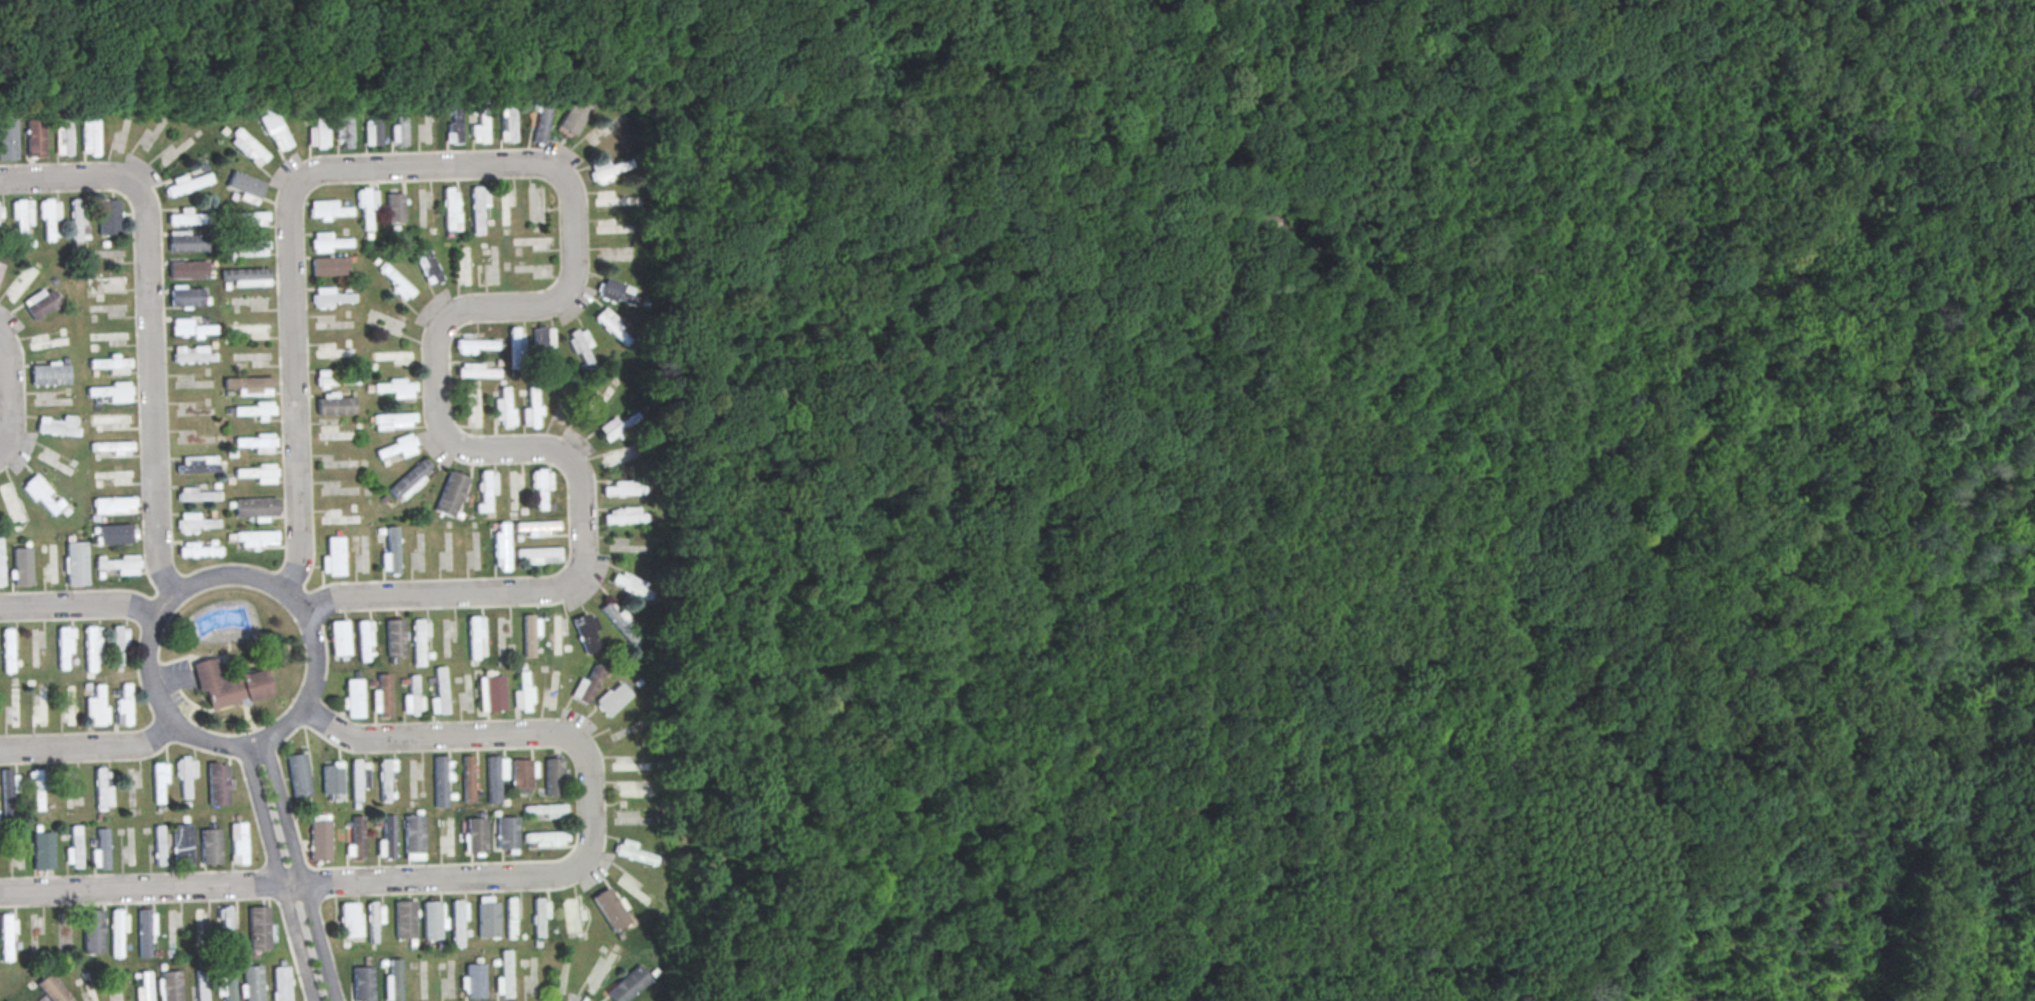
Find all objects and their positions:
road: (1896, 1)
road: (1963, 9)
road: (9, 14)
road: (1045, 56)
road: (1563, 62)
building: (573, 116)
building: (507, 123)
building: (541, 123)
building: (343, 127)
building: (479, 127)
building: (399, 128)
building: (453, 128)
building: (275, 130)
building: (372, 130)
building: (601, 132)
building: (90, 134)
building: (317, 134)
building: (8, 137)
building: (35, 137)
building: (63, 137)
building: (248, 148)
building: (606, 170)
building: (188, 183)
building: (243, 186)
building: (610, 201)
building: (395, 206)
building: (504, 206)
building: (366, 208)
building: (451, 208)
building: (329, 209)
building: (477, 210)
road: (1623, 211)
road: (573, 215)
building: (109, 217)
building: (0, 218)
building: (22, 218)
building: (48, 218)
building: (187, 218)
building: (255, 218)
building: (78, 220)
building: (608, 225)
building: (187, 240)
building: (531, 241)
building: (329, 242)
building: (249, 248)
building: (427, 264)
building: (329, 265)
building: (1, 266)
building: (464, 266)
building: (188, 269)
building: (246, 276)
building: (109, 280)
building: (394, 280)
building: (20, 283)
building: (615, 292)
building: (186, 296)
building: (333, 297)
road: (1297, 298)
building: (41, 302)
road: (147, 325)
building: (613, 325)
building: (191, 329)
building: (247, 329)
building: (108, 335)
building: (47, 343)
building: (516, 343)
building: (473, 344)
building: (542, 344)
building: (579, 346)
road: (1030, 347)
building: (332, 352)
building: (192, 354)
building: (396, 356)
building: (110, 364)
building: (478, 370)
building: (50, 373)
building: (335, 378)
road: (2008, 382)
building: (248, 385)
building: (394, 387)
building: (110, 391)
road: (6, 397)
building: (334, 403)
building: (601, 403)
building: (474, 407)
building: (503, 407)
building: (532, 409)
building: (253, 410)
building: (111, 420)
building: (392, 421)
building: (58, 425)
building: (620, 425)
building: (335, 431)
road: (2009, 437)
building: (255, 442)
building: (111, 447)
building: (396, 447)
building: (618, 457)
building: (196, 464)
building: (255, 473)
building: (113, 474)
building: (409, 481)
building: (513, 488)
building: (624, 488)
building: (484, 489)
building: (540, 489)
building: (450, 493)
building: (197, 494)
building: (42, 495)
park: (1621, 497)
building: (11, 503)
building: (113, 505)
building: (255, 509)
building: (623, 515)
building: (339, 517)
building: (194, 523)
building: (537, 527)
building: (116, 534)
building: (255, 538)
building: (500, 546)
building: (199, 548)
building: (390, 552)
building: (538, 555)
building: (333, 557)
building: (75, 562)
building: (1, 563)
building: (119, 563)
building: (21, 565)
building: (51, 565)
road: (225, 576)
building: (631, 584)
road: (363, 599)
road: (78, 606)
road: (161, 606)
building: (586, 632)
building: (529, 633)
building: (554, 635)
building: (394, 637)
building: (339, 638)
building: (475, 638)
building: (364, 640)
building: (418, 642)
building: (118, 645)
road: (1039, 645)
building: (63, 648)
building: (7, 650)
building: (91, 651)
building: (586, 682)
parking lot: (178, 683)
building: (229, 684)
road: (167, 686)
building: (490, 691)
building: (439, 692)
building: (523, 693)
building: (381, 696)
building: (351, 697)
building: (412, 697)
building: (611, 699)
building: (14, 705)
building: (68, 705)
building: (123, 705)
building: (97, 706)
building: (40, 707)
road: (1773, 721)
road: (248, 745)
road: (89, 750)
building: (628, 764)
building: (523, 773)
building: (185, 775)
building: (298, 775)
building: (494, 776)
building: (553, 776)
building: (331, 777)
building: (358, 777)
building: (441, 778)
building: (467, 778)
building: (386, 780)
road: (1218, 780)
building: (159, 782)
building: (218, 783)
road: (1754, 784)
building: (102, 788)
building: (7, 789)
building: (35, 789)
building: (632, 790)
road: (1970, 798)
road: (592, 809)
building: (543, 811)
road: (1782, 820)
building: (507, 834)
building: (476, 835)
building: (413, 836)
building: (320, 837)
building: (356, 839)
building: (387, 839)
building: (449, 839)
building: (544, 839)
building: (237, 842)
building: (158, 844)
building: (182, 844)
building: (210, 845)
building: (74, 848)
building: (43, 850)
building: (100, 850)
road: (1019, 851)
building: (633, 852)
road: (300, 869)
road: (278, 873)
road: (1970, 878)
building: (630, 887)
road: (140, 890)
building: (609, 909)
building: (574, 914)
building: (539, 915)
building: (487, 916)
building: (510, 917)
building: (374, 918)
building: (405, 918)
building: (350, 919)
building: (434, 919)
building: (225, 920)
building: (458, 923)
building: (198, 924)
building: (260, 928)
building: (118, 929)
building: (93, 930)
building: (146, 931)
building: (7, 937)
building: (503, 976)
building: (472, 980)
building: (393, 982)
building: (251, 983)
building: (281, 983)
building: (362, 983)
building: (226, 984)
building: (170, 985)
building: (201, 985)
building: (627, 985)
building: (89, 986)
building: (143, 986)
building: (52, 989)

